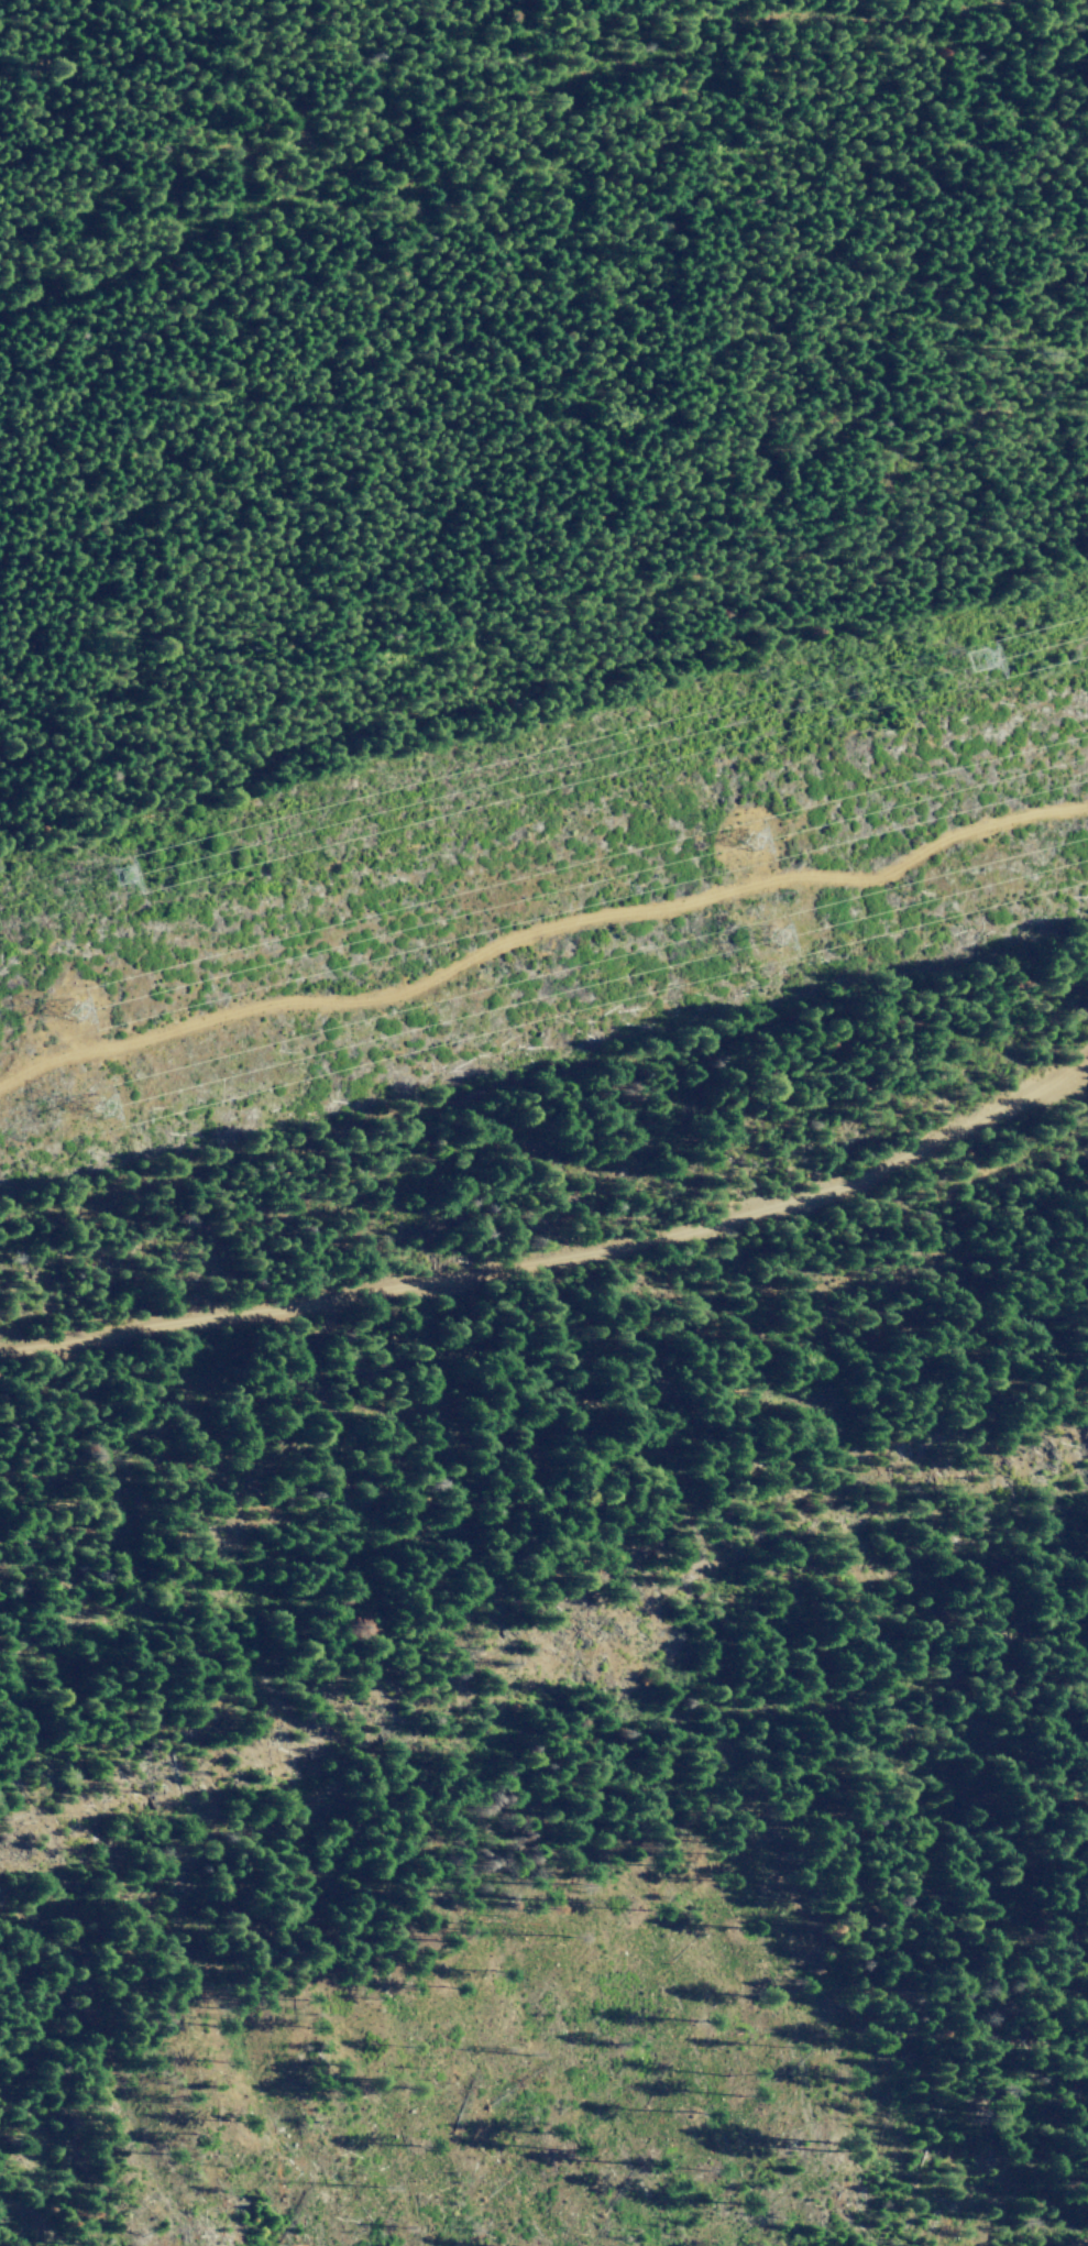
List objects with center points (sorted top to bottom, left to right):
power tower: (987, 649)
power tower: (755, 836)
power tower: (135, 864)
power tower: (776, 942)
power tower: (85, 998)
power tower: (109, 1104)

